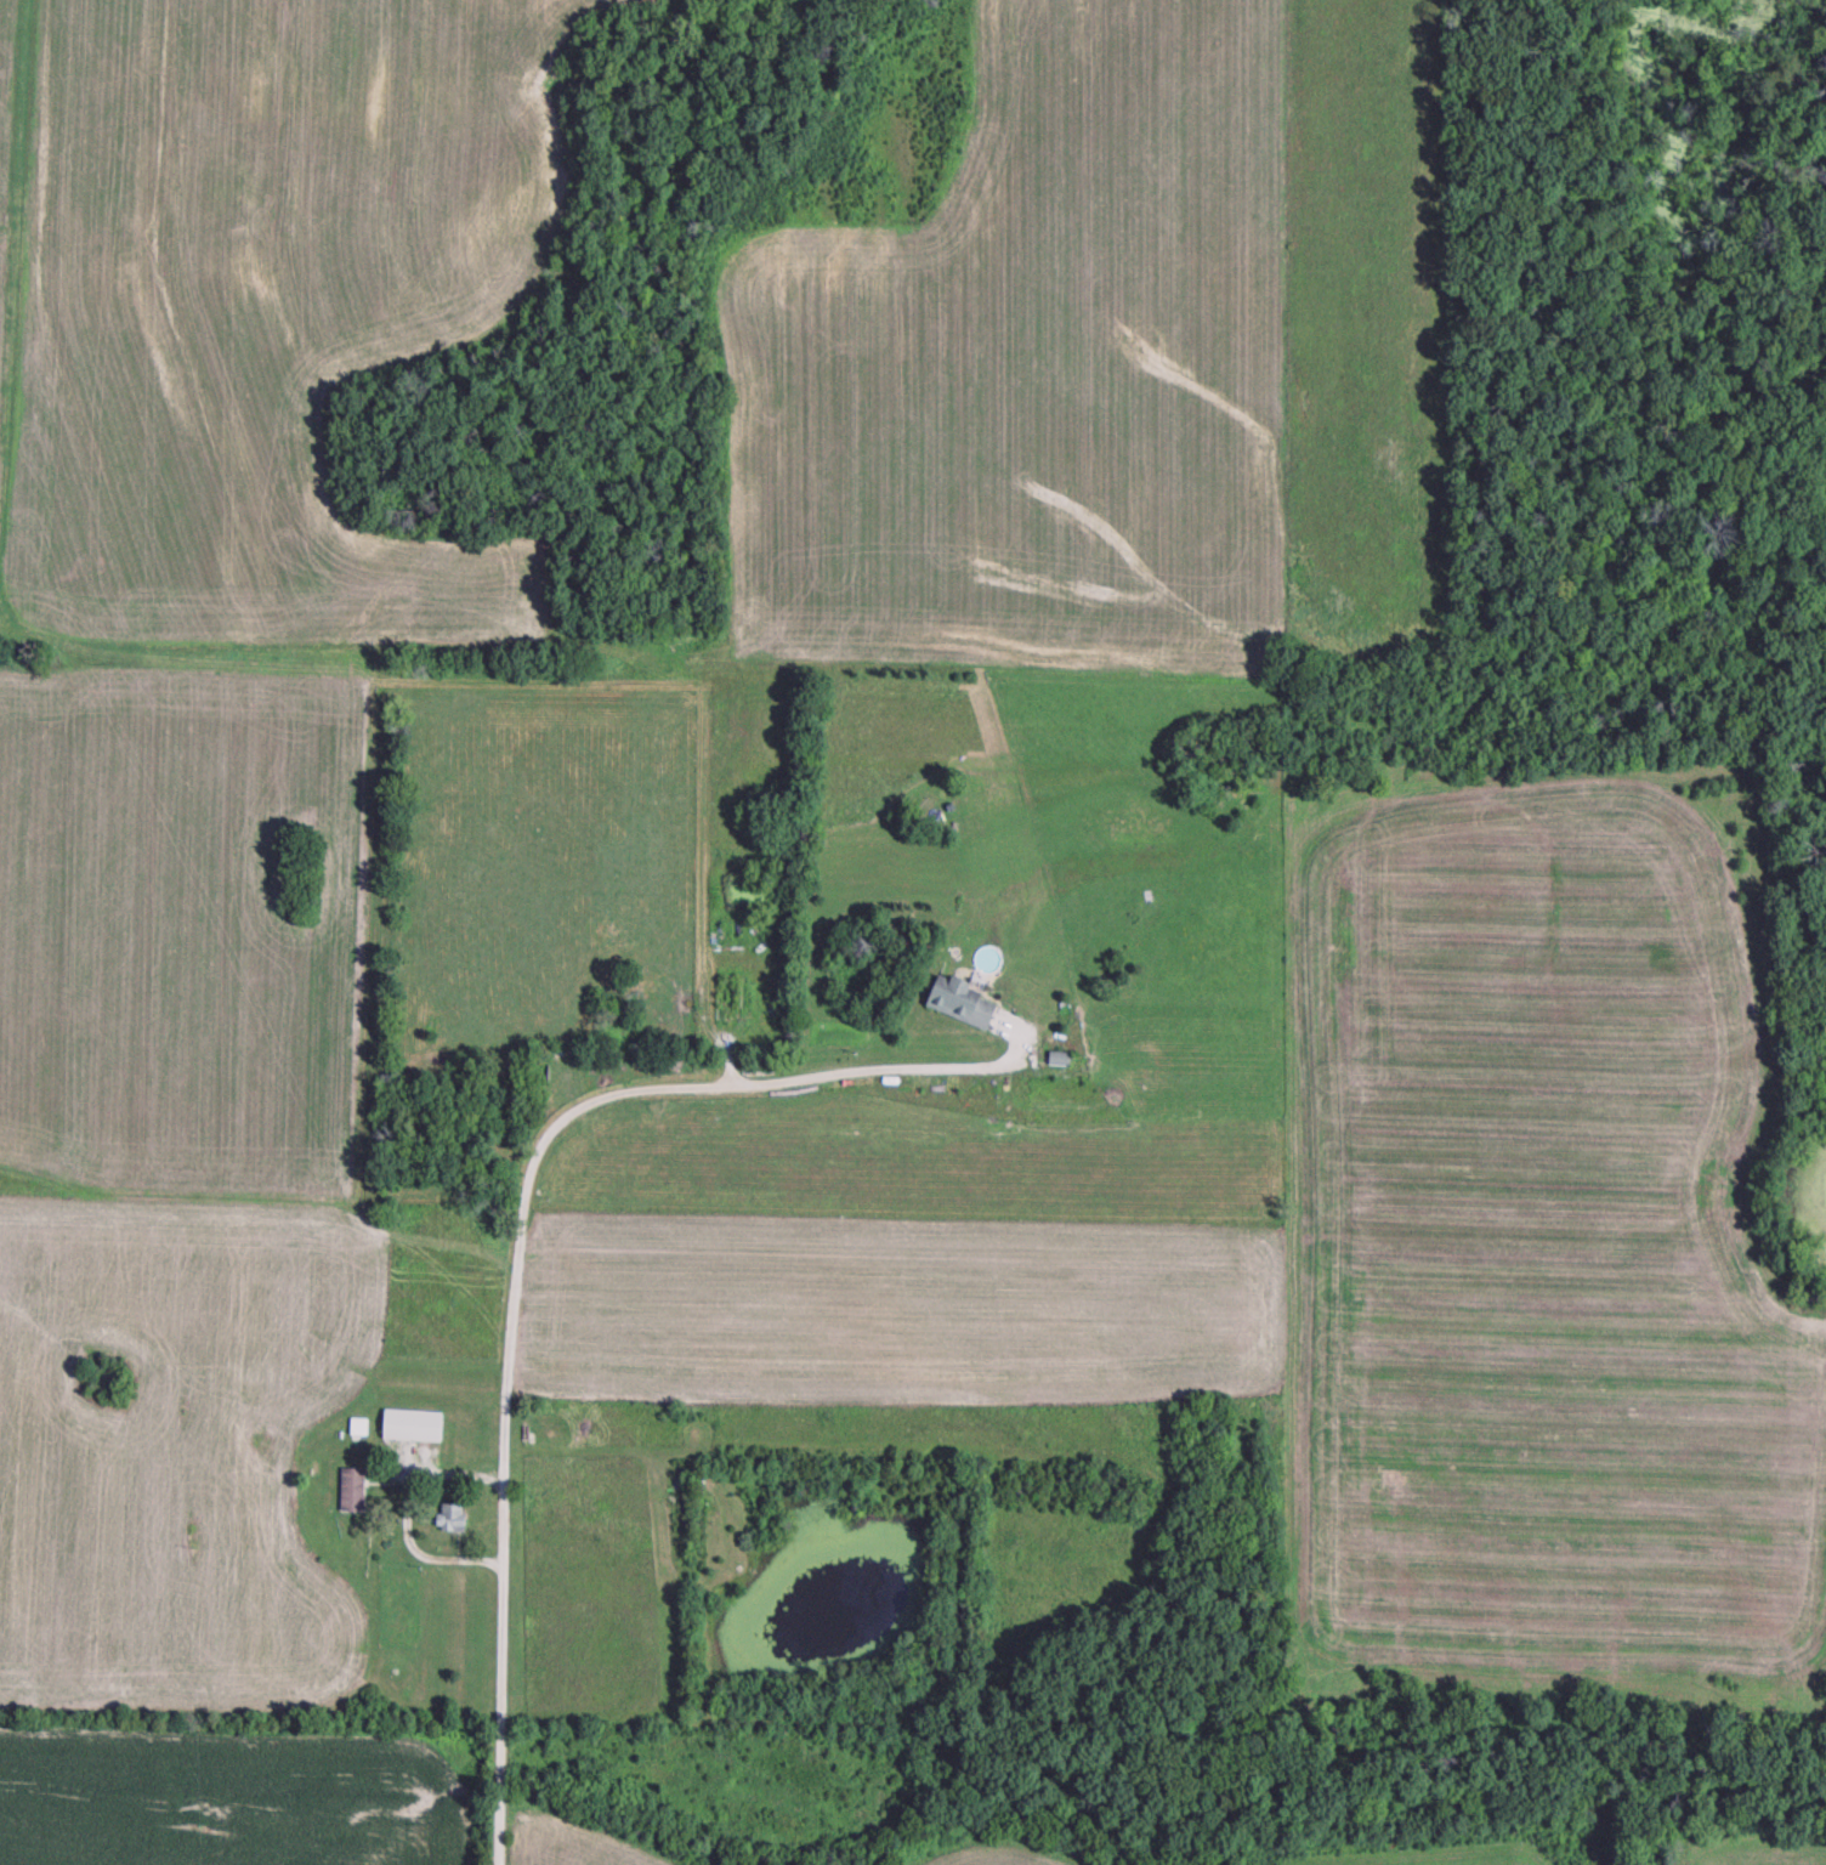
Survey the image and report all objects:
building: (963, 1004)
building: (1061, 1062)
road: (605, 1098)
building: (415, 1428)
building: (355, 1491)
building: (453, 1519)
road: (413, 1555)
road: (503, 1690)

